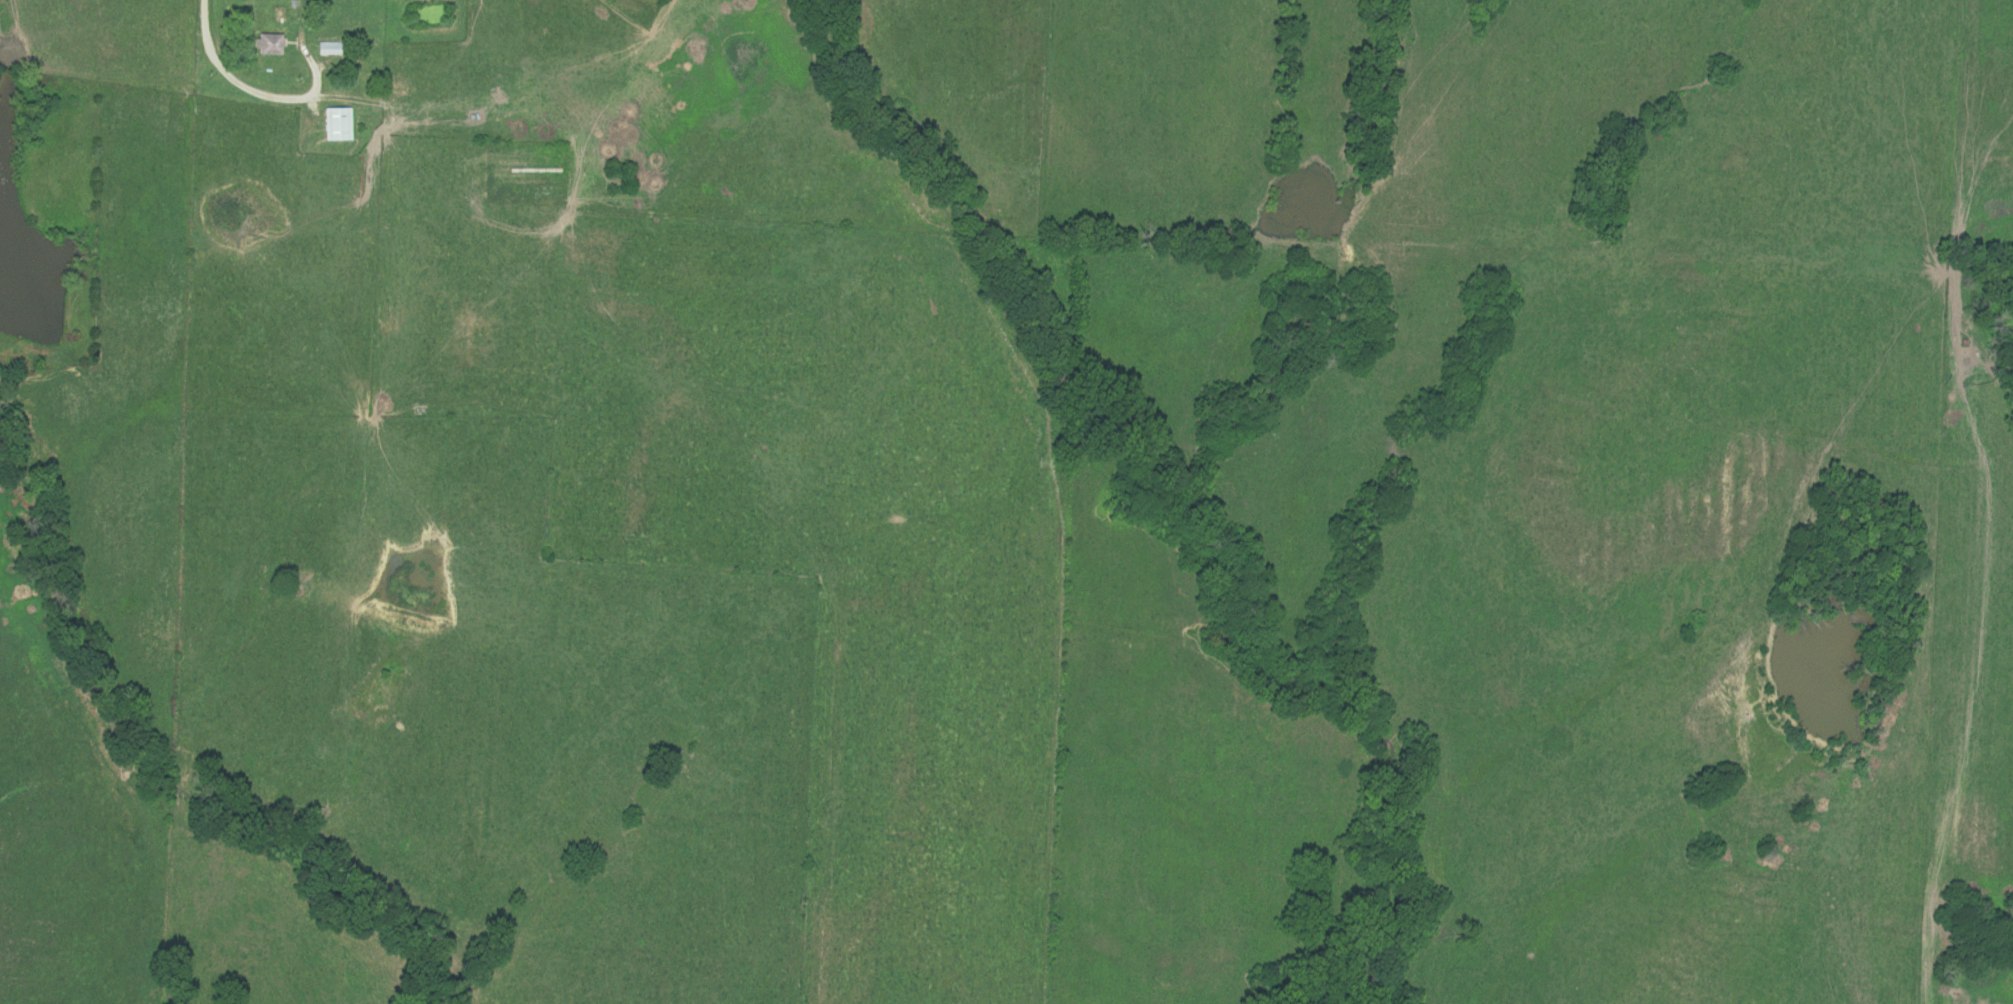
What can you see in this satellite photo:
building: (269, 45)
road: (258, 96)
building: (335, 124)

